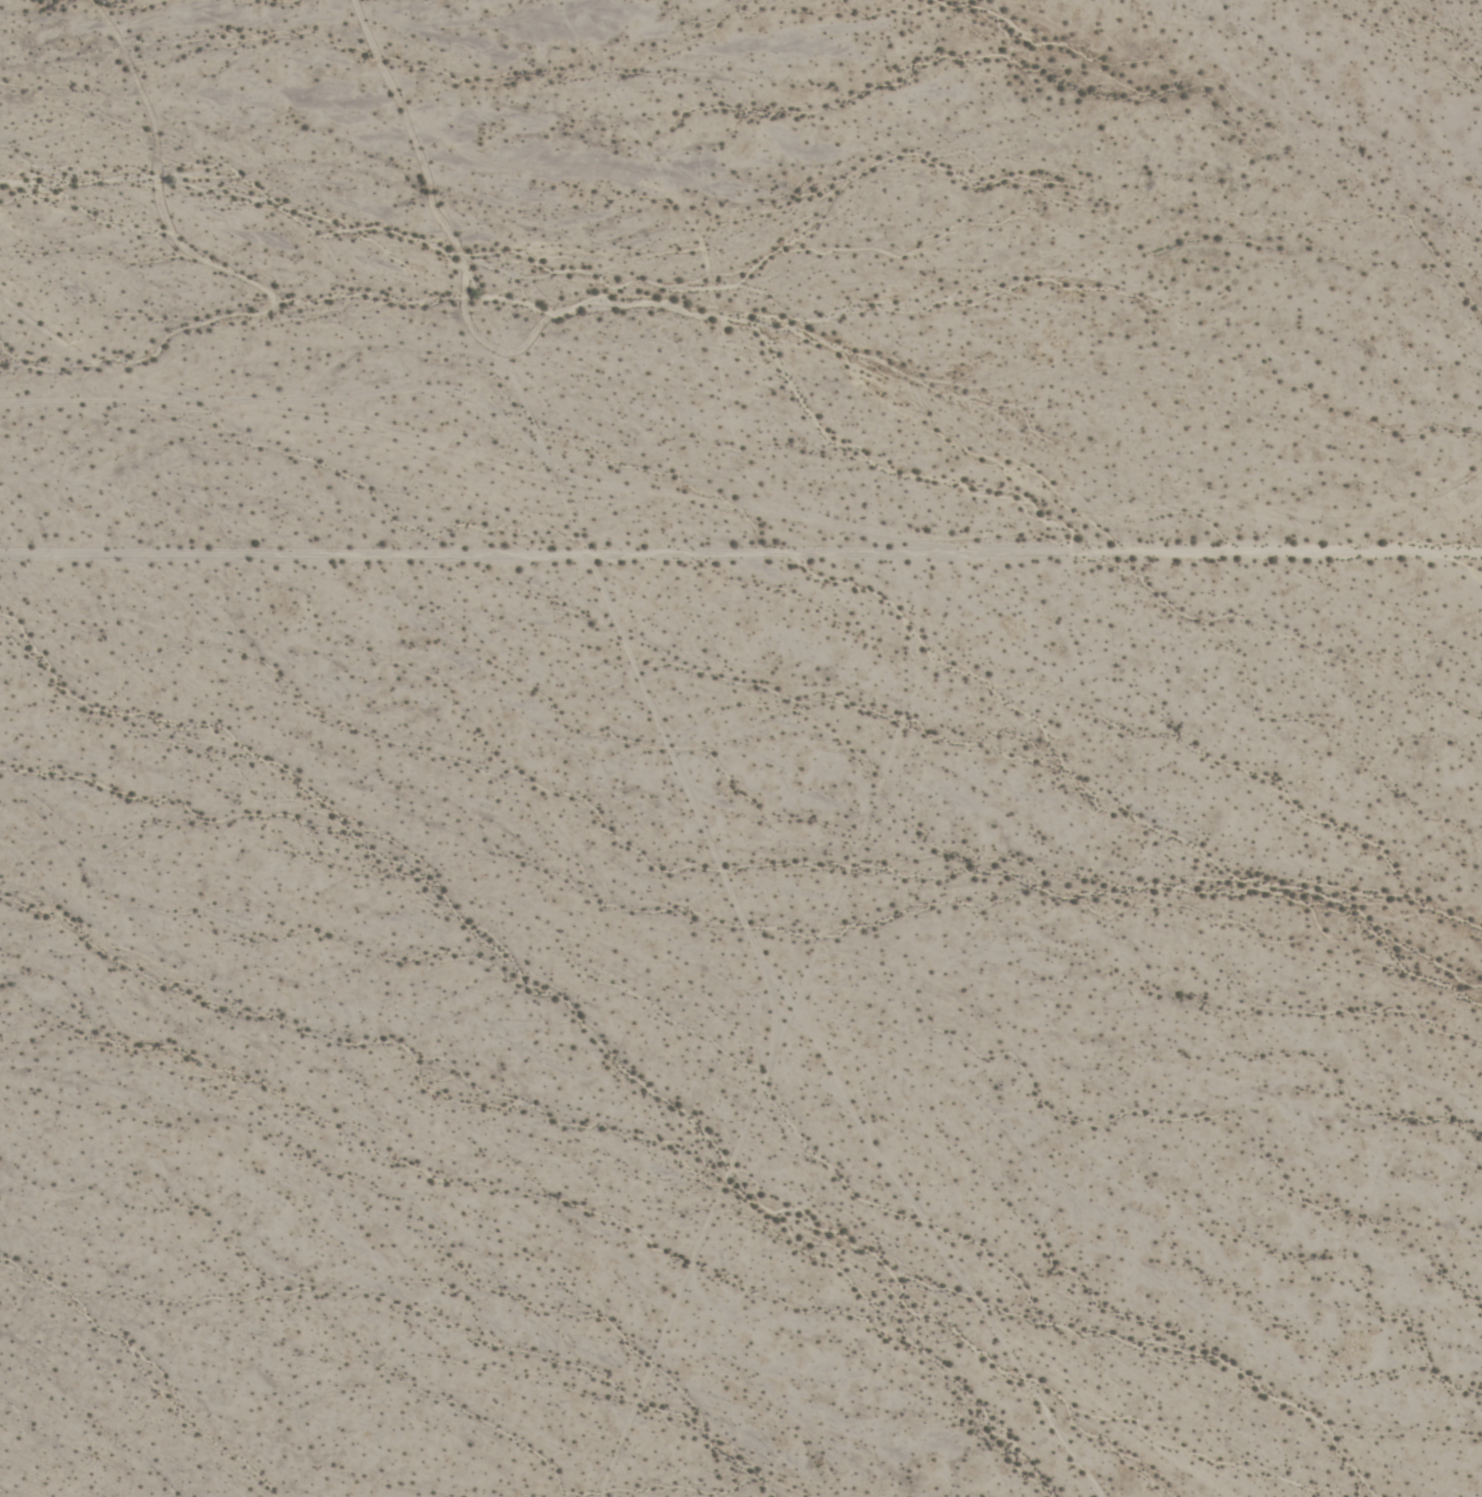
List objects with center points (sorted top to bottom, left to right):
road: (741, 537)

